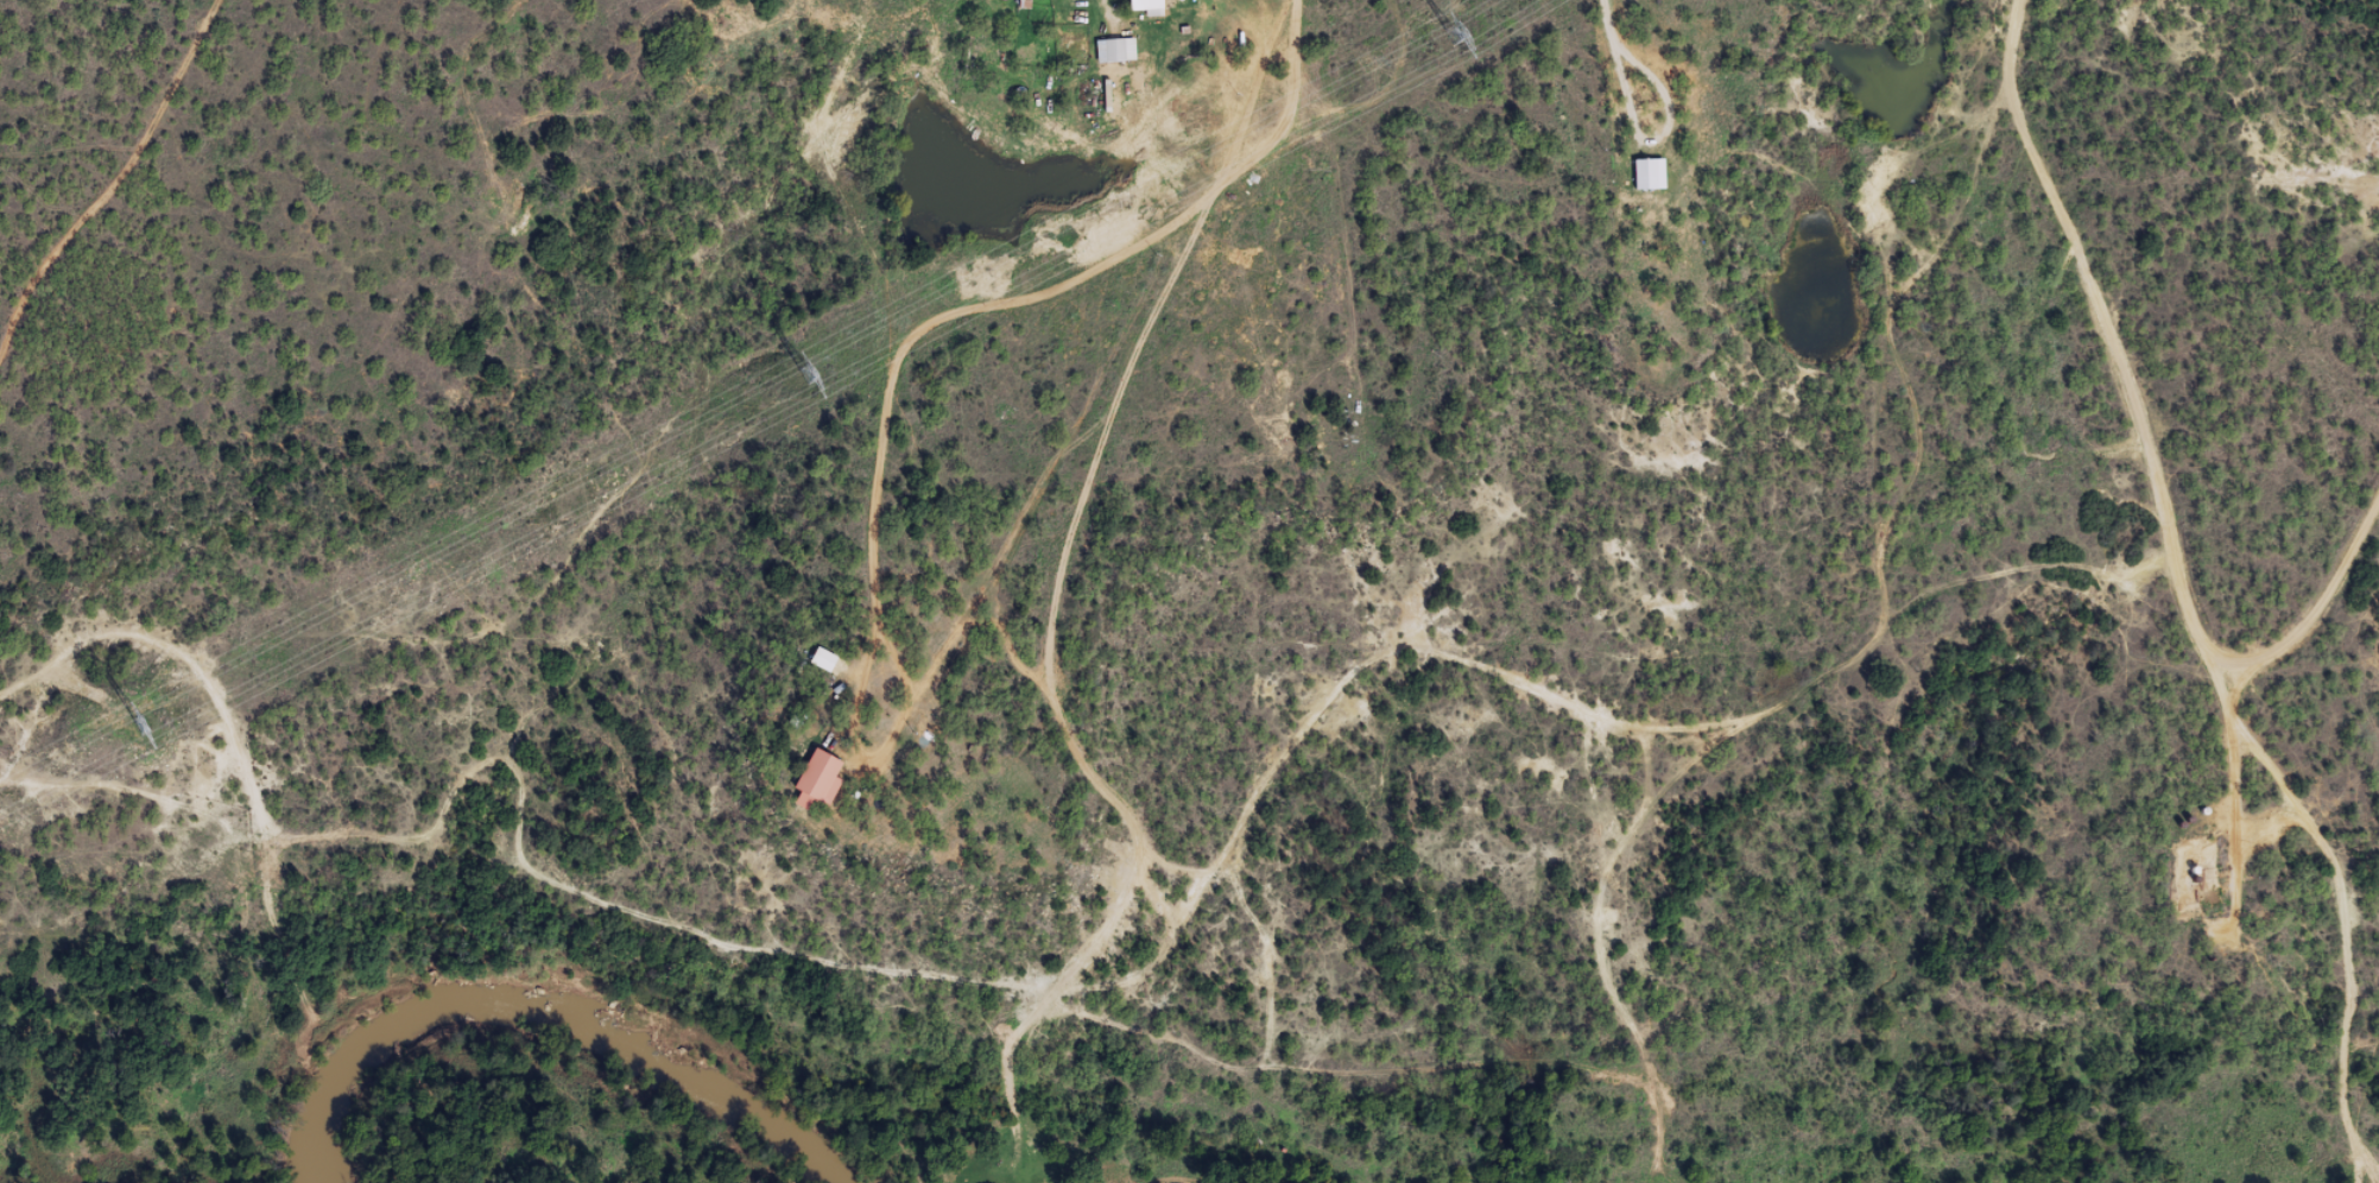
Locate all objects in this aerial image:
building: (1143, 11)
power tower: (1454, 38)
building: (1111, 59)
building: (1645, 183)
road: (2096, 303)
power tower: (809, 377)
building: (818, 669)
power tower: (146, 728)
building: (812, 789)
road: (1162, 844)
road: (2321, 888)

